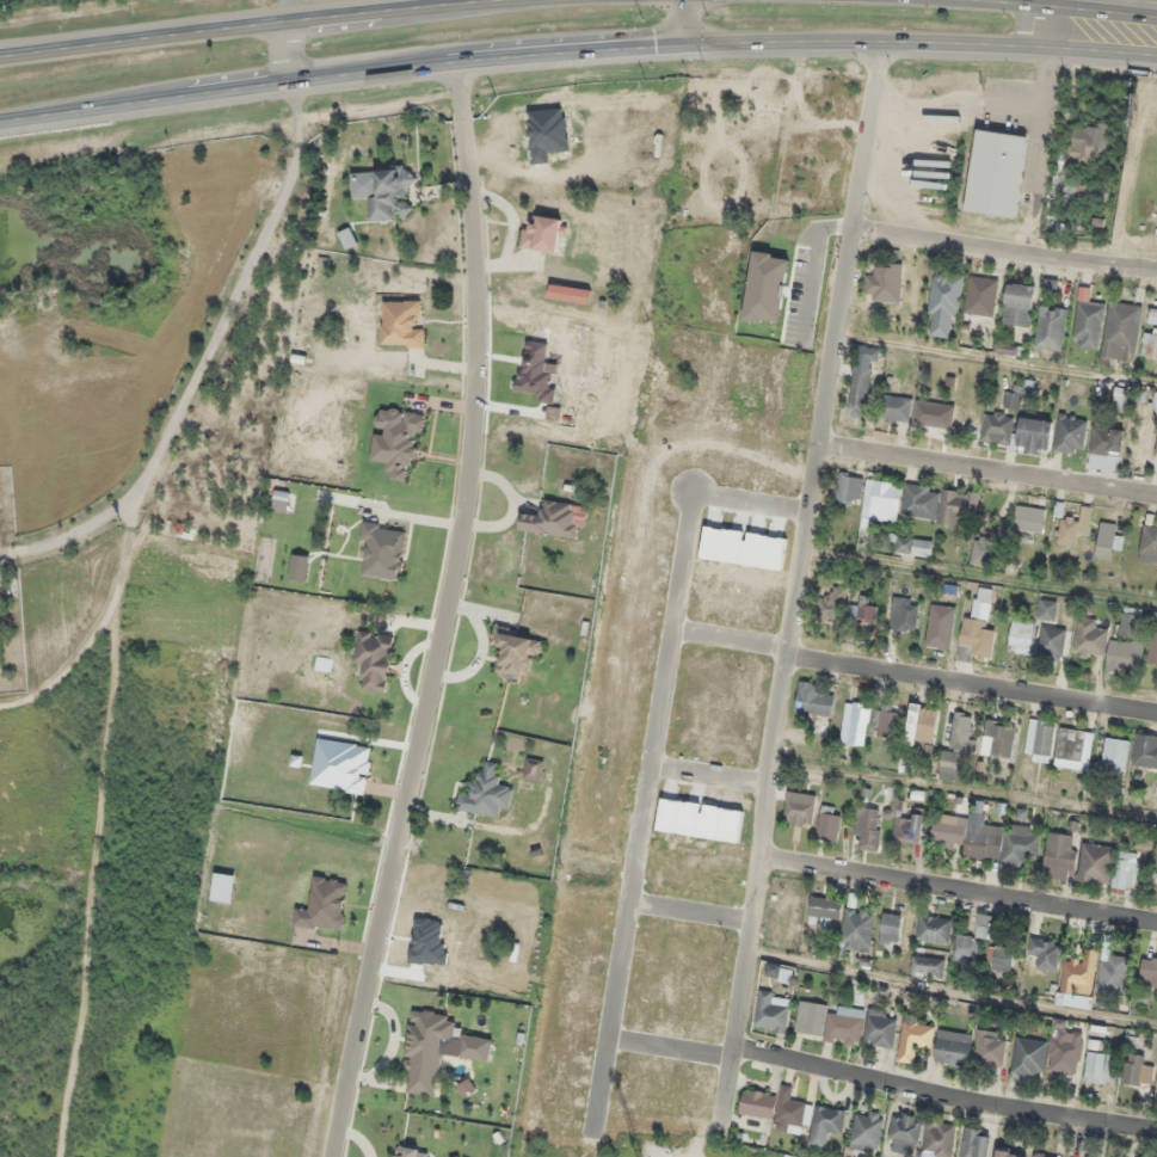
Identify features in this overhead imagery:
road: (1070, 7)
road: (256, 20)
road: (1029, 21)
road: (676, 25)
road: (288, 50)
traffic signals: (678, 50)
road: (577, 55)
building: (1087, 143)
building: (995, 173)
building: (1076, 191)
building: (389, 193)
building: (544, 234)
road: (1005, 248)
building: (884, 283)
building: (980, 295)
building: (943, 304)
building: (1017, 304)
building: (402, 322)
building: (1088, 324)
building: (1051, 327)
building: (1121, 331)
building: (1150, 345)
building: (861, 381)
building: (1014, 398)
building: (1120, 399)
building: (1155, 399)
building: (894, 407)
building: (933, 413)
building: (993, 427)
building: (1070, 433)
building: (1033, 436)
building: (1104, 448)
building: (1156, 449)
road: (989, 475)
building: (848, 488)
building: (880, 500)
building: (937, 503)
building: (1028, 517)
building: (550, 519)
building: (1066, 529)
road: (805, 544)
building: (1107, 544)
building: (1147, 544)
building: (913, 546)
building: (382, 549)
building: (981, 550)
building: (830, 604)
building: (862, 609)
building: (1047, 609)
road: (439, 613)
building: (903, 614)
building: (1130, 622)
building: (940, 626)
building: (1021, 635)
building: (977, 638)
building: (1051, 642)
building: (1152, 645)
building: (1107, 647)
building: (512, 653)
building: (374, 659)
road: (973, 679)
building: (812, 700)
building: (885, 719)
building: (854, 722)
building: (922, 722)
building: (998, 737)
building: (1039, 740)
building: (1073, 749)
building: (958, 750)
building: (1144, 751)
building: (925, 752)
building: (1114, 753)
building: (485, 793)
building: (799, 808)
building: (829, 823)
building: (867, 829)
building: (906, 829)
building: (984, 837)
building: (1059, 855)
building: (1095, 863)
building: (1125, 872)
road: (960, 896)
building: (824, 909)
building: (856, 929)
building: (892, 929)
building: (934, 929)
building: (971, 941)
building: (1044, 952)
building: (998, 959)
building: (927, 965)
building: (771, 970)
building: (1147, 971)
building: (1112, 973)
building: (1078, 979)
road: (955, 986)
building: (769, 1014)
building: (810, 1017)
building: (843, 1024)
building: (879, 1028)
building: (913, 1039)
building: (1065, 1042)
building: (426, 1045)
building: (473, 1047)
building: (952, 1047)
building: (989, 1048)
building: (1029, 1057)
building: (1097, 1067)
building: (1136, 1071)
road: (946, 1091)
building: (757, 1103)
building: (788, 1110)
building: (825, 1124)
building: (866, 1130)
building: (904, 1132)
building: (938, 1139)
building: (974, 1143)
building: (411, 1151)
building: (1009, 1153)
building: (1040, 1155)

